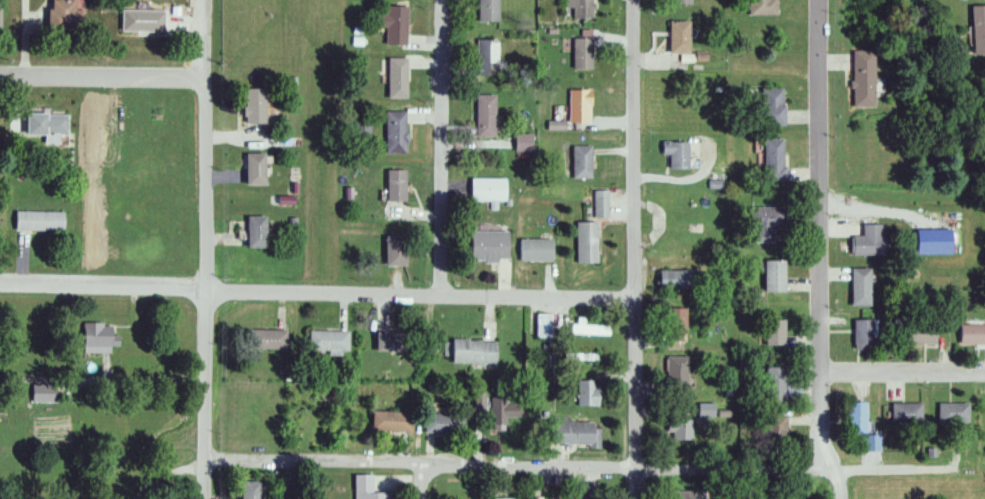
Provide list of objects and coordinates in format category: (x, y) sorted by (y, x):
building: (675, 2)
building: (757, 7)
building: (575, 9)
building: (484, 10)
building: (61, 13)
building: (139, 20)
building: (392, 25)
building: (976, 29)
building: (674, 37)
building: (579, 54)
building: (484, 57)
road: (105, 78)
building: (393, 78)
building: (859, 79)
building: (771, 98)
building: (250, 105)
building: (575, 106)
building: (481, 115)
building: (358, 125)
building: (42, 126)
building: (393, 132)
road: (434, 147)
building: (672, 154)
building: (773, 158)
building: (578, 162)
building: (248, 168)
building: (390, 185)
building: (484, 189)
building: (598, 203)
building: (766, 220)
building: (35, 221)
building: (250, 231)
building: (875, 234)
building: (583, 242)
building: (484, 246)
road: (207, 249)
building: (533, 249)
road: (634, 249)
building: (390, 250)
road: (816, 252)
road: (829, 257)
building: (775, 270)
building: (668, 280)
building: (861, 283)
road: (317, 290)
building: (776, 322)
building: (671, 325)
building: (924, 326)
building: (866, 328)
building: (588, 330)
building: (969, 334)
building: (95, 338)
building: (263, 340)
building: (324, 342)
building: (383, 343)
building: (469, 351)
building: (584, 357)
road: (901, 366)
building: (674, 374)
building: (771, 387)
building: (584, 393)
building: (904, 413)
building: (949, 413)
building: (852, 418)
building: (386, 421)
building: (441, 424)
building: (676, 430)
building: (772, 430)
building: (575, 433)
road: (311, 457)
road: (728, 461)
road: (850, 465)
road: (691, 467)
road: (421, 479)
building: (359, 487)
building: (246, 489)
building: (584, 491)
building: (876, 491)
building: (678, 495)
building: (499, 498)

